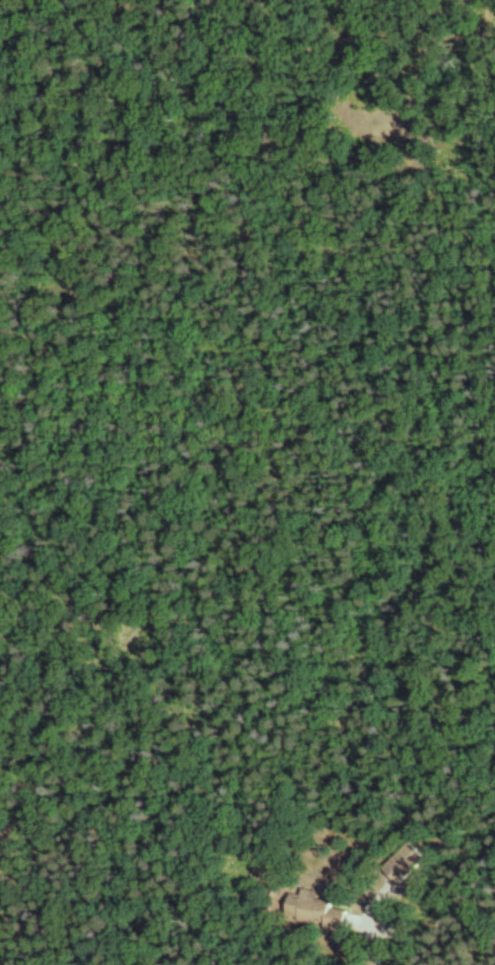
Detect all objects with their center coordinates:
road: (466, 4)
building: (308, 909)

